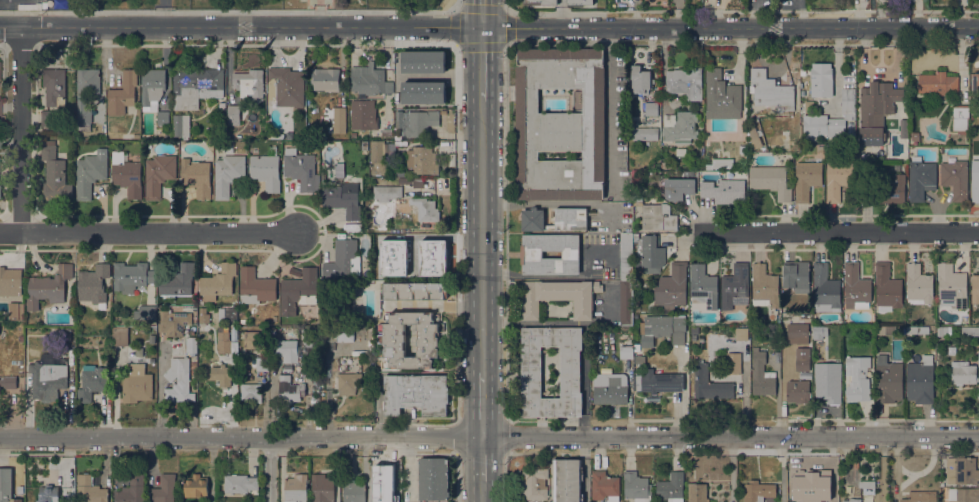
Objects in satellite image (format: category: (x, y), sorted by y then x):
building: (540, 2)
building: (579, 2)
building: (44, 5)
road: (505, 6)
road: (232, 11)
road: (503, 11)
road: (482, 12)
road: (10, 26)
traffic signals: (482, 26)
road: (499, 26)
building: (422, 61)
road: (482, 63)
building: (325, 79)
building: (367, 79)
building: (641, 80)
building: (821, 80)
building: (685, 82)
building: (248, 83)
building: (937, 83)
building: (152, 85)
building: (975, 85)
building: (54, 86)
building: (195, 86)
building: (286, 86)
building: (769, 89)
building: (422, 92)
building: (123, 93)
building: (721, 93)
building: (804, 93)
building: (86, 95)
building: (810, 106)
building: (0, 109)
building: (651, 109)
building: (876, 110)
building: (364, 114)
building: (233, 115)
building: (47, 117)
building: (163, 118)
building: (960, 118)
building: (338, 119)
building: (830, 119)
building: (416, 122)
building: (560, 124)
building: (181, 126)
building: (680, 127)
road: (20, 129)
building: (903, 129)
building: (644, 133)
building: (789, 135)
building: (915, 136)
building: (753, 138)
building: (0, 141)
building: (364, 145)
building: (860, 156)
building: (378, 157)
building: (422, 160)
building: (720, 163)
building: (663, 165)
building: (53, 170)
building: (301, 170)
building: (265, 171)
building: (90, 172)
building: (126, 174)
building: (158, 174)
building: (228, 174)
building: (743, 174)
building: (838, 176)
building: (196, 177)
building: (807, 177)
building: (921, 178)
building: (955, 179)
building: (770, 181)
building: (975, 181)
building: (676, 188)
building: (883, 190)
building: (0, 191)
building: (723, 191)
building: (386, 193)
building: (342, 199)
building: (637, 200)
building: (425, 209)
building: (659, 217)
building: (570, 218)
building: (533, 220)
road: (838, 231)
road: (505, 232)
road: (149, 233)
road: (482, 236)
building: (636, 238)
building: (390, 240)
building: (531, 254)
building: (650, 254)
building: (393, 255)
building: (427, 255)
building: (626, 257)
building: (343, 260)
building: (295, 272)
building: (132, 276)
road: (548, 276)
building: (796, 276)
building: (10, 282)
building: (176, 282)
building: (218, 282)
building: (93, 283)
building: (918, 285)
building: (255, 286)
building: (703, 286)
building: (734, 286)
building: (764, 286)
building: (48, 287)
building: (672, 287)
building: (951, 287)
building: (856, 288)
building: (887, 288)
building: (825, 289)
building: (975, 289)
building: (299, 291)
building: (415, 291)
building: (559, 297)
building: (626, 302)
road: (433, 305)
building: (211, 311)
building: (227, 314)
building: (143, 316)
building: (203, 316)
building: (174, 322)
road: (560, 324)
building: (877, 328)
building: (663, 329)
building: (889, 329)
building: (694, 330)
building: (917, 330)
building: (970, 331)
building: (942, 332)
building: (819, 333)
building: (797, 334)
building: (120, 336)
building: (334, 336)
building: (66, 337)
building: (253, 339)
building: (393, 340)
building: (907, 340)
building: (224, 341)
building: (191, 343)
building: (636, 347)
building: (625, 349)
building: (285, 350)
building: (951, 351)
building: (978, 356)
building: (733, 362)
building: (802, 363)
building: (262, 364)
building: (193, 368)
building: (532, 371)
building: (962, 373)
building: (221, 374)
building: (762, 375)
building: (47, 378)
building: (857, 379)
building: (179, 381)
building: (888, 381)
building: (920, 381)
building: (8, 382)
building: (21, 382)
building: (92, 382)
building: (348, 382)
building: (661, 382)
building: (828, 382)
building: (136, 383)
building: (709, 384)
building: (610, 389)
building: (290, 390)
building: (250, 392)
building: (797, 392)
building: (416, 394)
road: (271, 398)
road: (481, 404)
road: (379, 407)
road: (232, 412)
road: (489, 437)
road: (481, 460)
road: (924, 468)
road: (269, 469)
road: (281, 469)
road: (337, 469)
road: (893, 469)
building: (962, 470)
road: (506, 478)
building: (433, 479)
road: (457, 479)
building: (567, 480)
building: (239, 483)
building: (534, 483)
building: (388, 484)
building: (868, 484)
building: (6, 486)
building: (196, 486)
building: (604, 486)
building: (636, 487)
building: (811, 487)
building: (295, 488)
building: (322, 488)
building: (671, 488)
building: (20, 489)
building: (163, 489)
building: (90, 490)
building: (131, 490)
building: (353, 491)
building: (758, 491)
road: (481, 492)
building: (697, 492)
building: (48, 494)
building: (963, 495)
building: (921, 496)
building: (853, 500)

